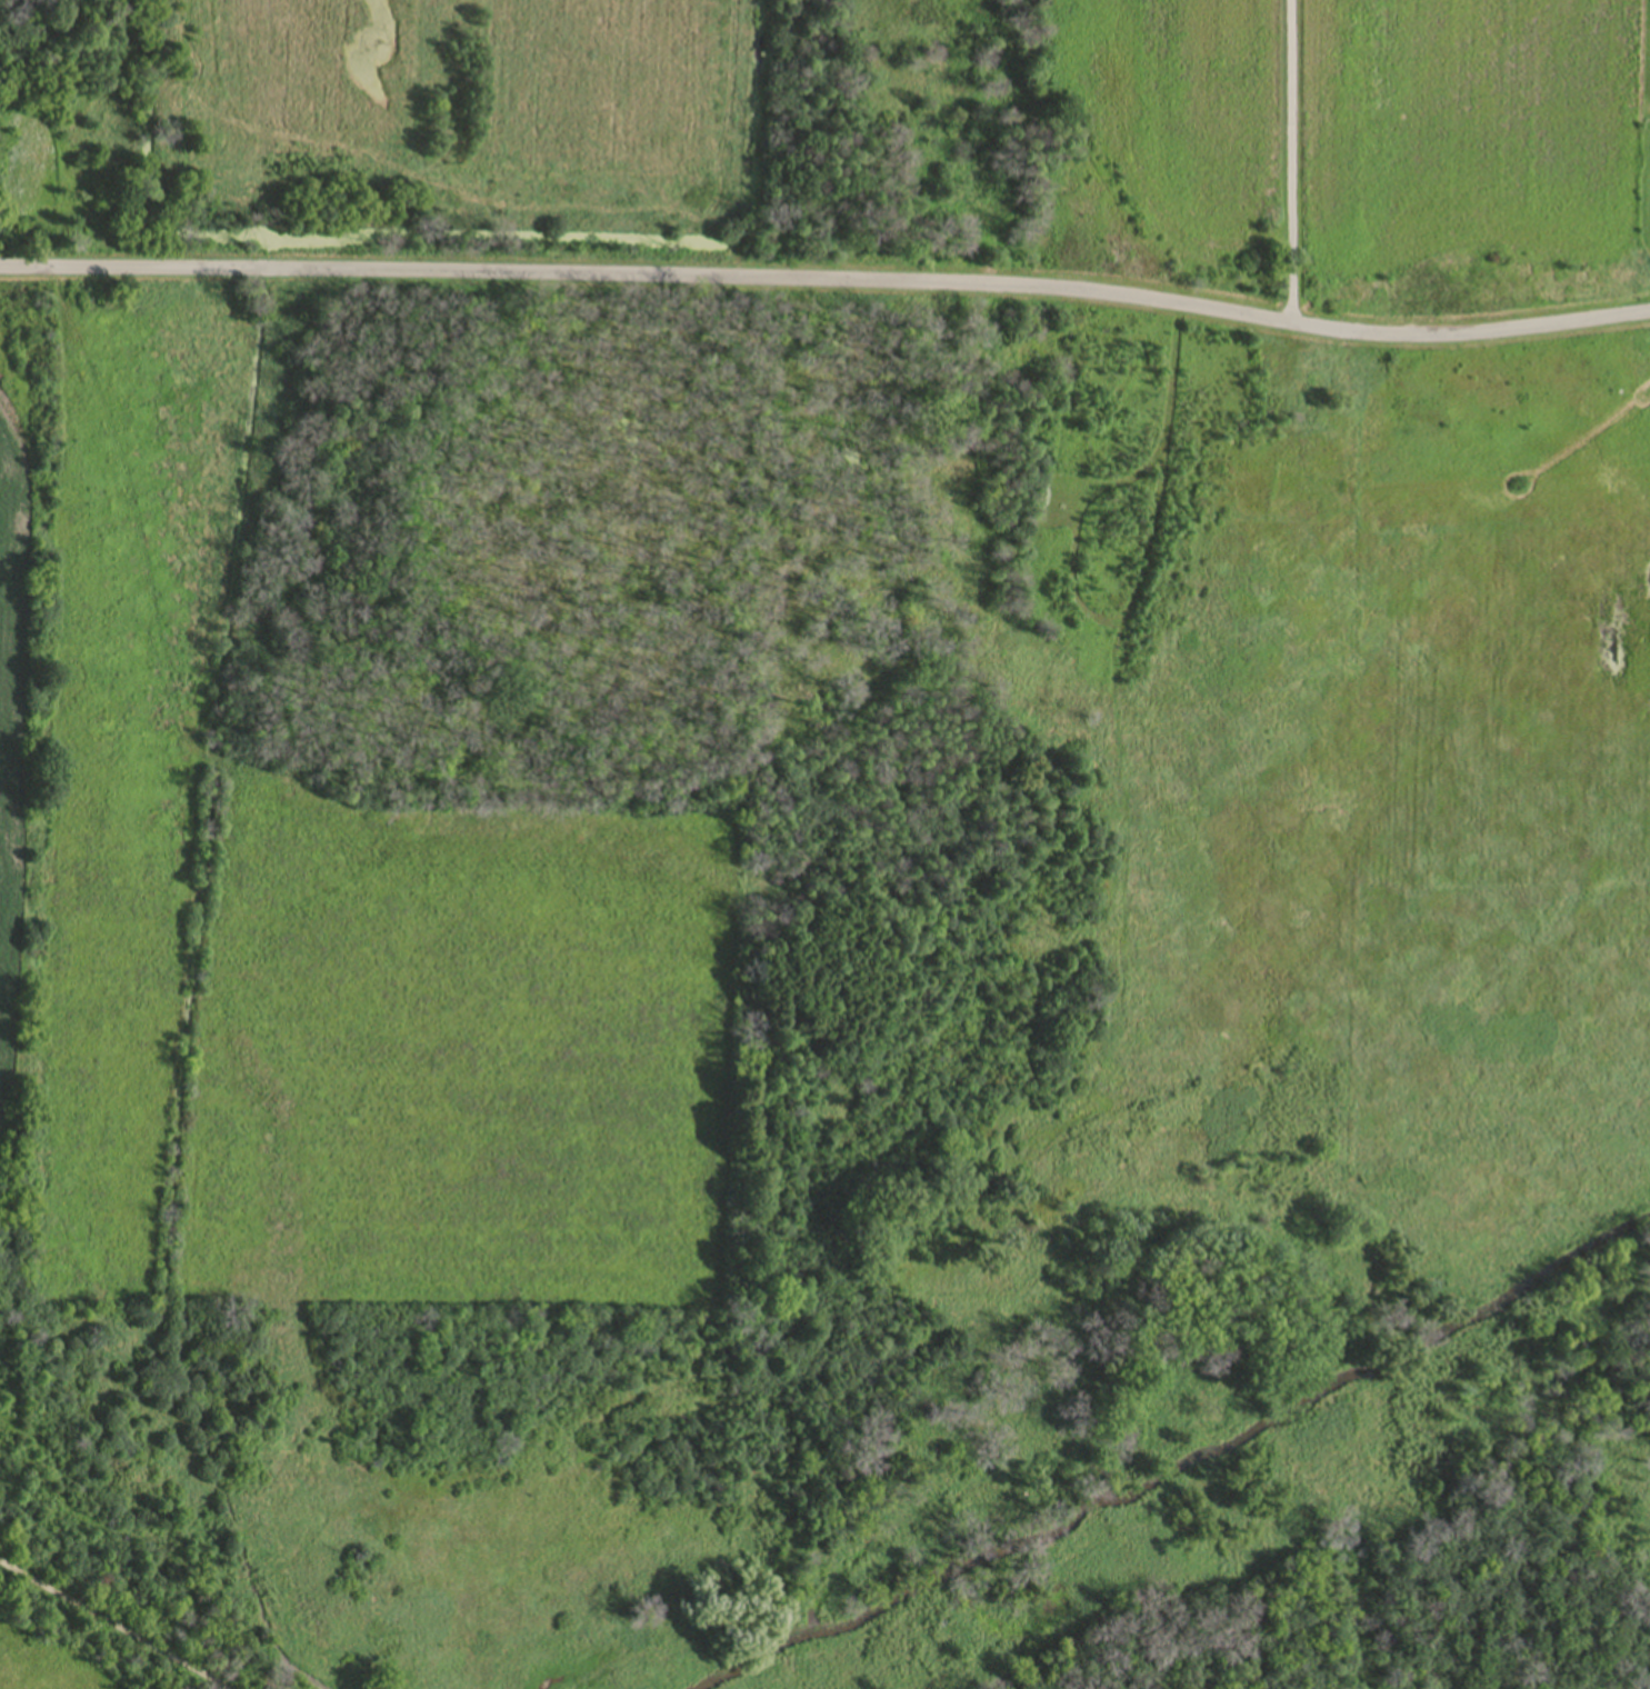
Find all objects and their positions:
road: (1288, 162)
road: (827, 281)
road: (112, 1626)

